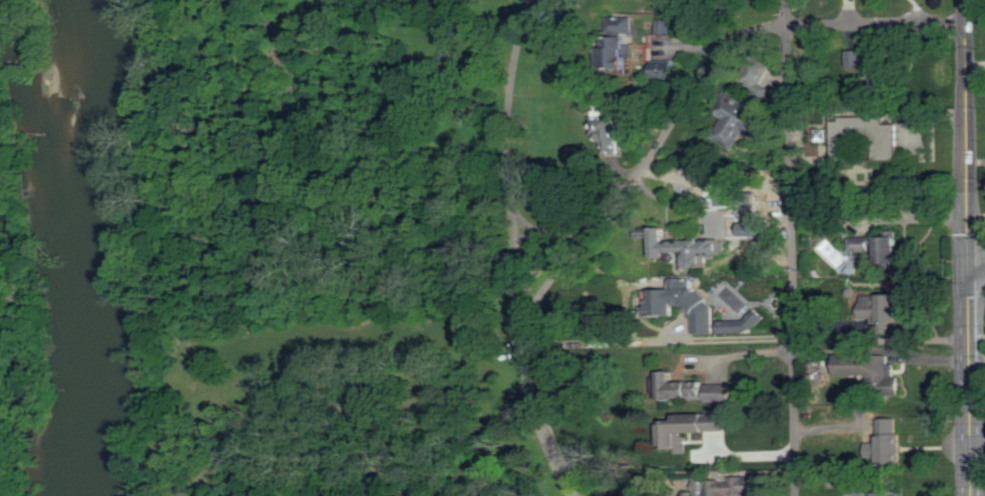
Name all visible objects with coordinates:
building: (665, 26)
building: (856, 58)
building: (885, 71)
road: (693, 87)
building: (749, 109)
building: (608, 131)
road: (966, 133)
building: (866, 136)
building: (755, 218)
road: (548, 234)
river: (81, 245)
building: (683, 245)
building: (862, 247)
road: (791, 248)
building: (889, 248)
road: (514, 252)
road: (976, 267)
traffic signals: (968, 268)
building: (882, 308)
building: (663, 310)
building: (744, 323)
road: (739, 354)
building: (859, 366)
road: (969, 382)
building: (687, 389)
building: (690, 427)
building: (714, 438)
building: (885, 444)
road: (742, 455)
road: (977, 456)
building: (728, 486)
building: (853, 490)
building: (890, 494)

